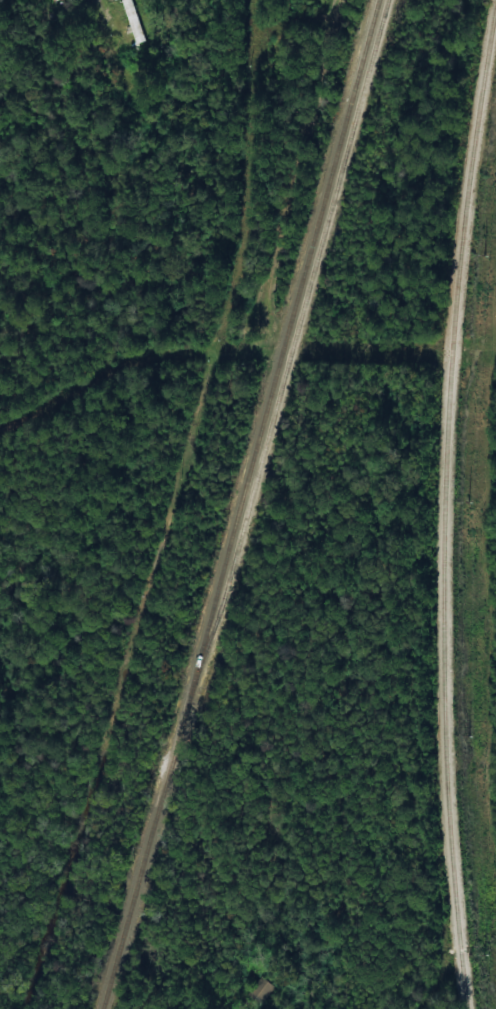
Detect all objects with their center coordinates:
building: (53, 0)
building: (134, 20)
road: (123, 52)
railway: (486, 88)
railway: (290, 354)
railway: (239, 504)
railway: (443, 504)
road: (314, 740)
building: (259, 989)

